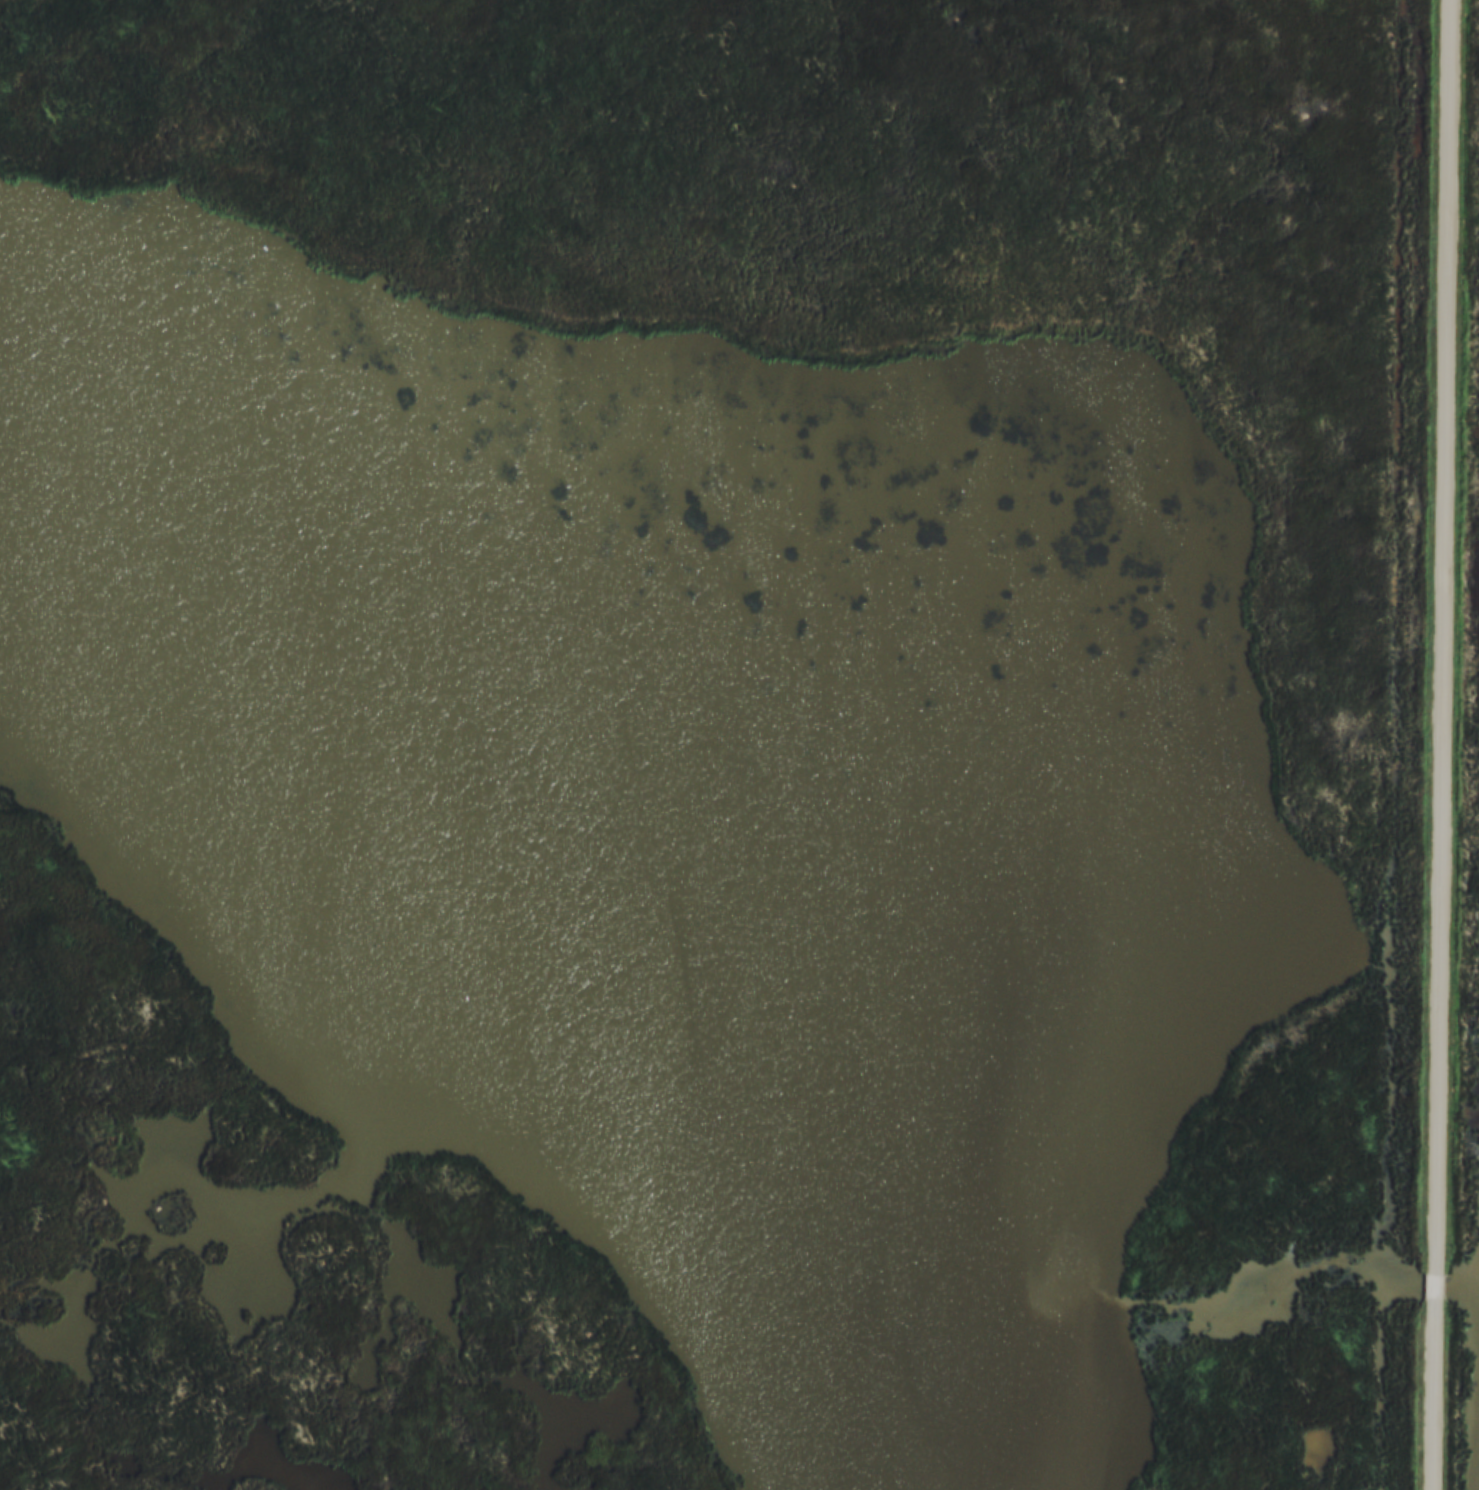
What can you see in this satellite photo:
road: (1443, 635)
river: (743, 1207)
road: (1435, 1283)
road: (1433, 1392)

